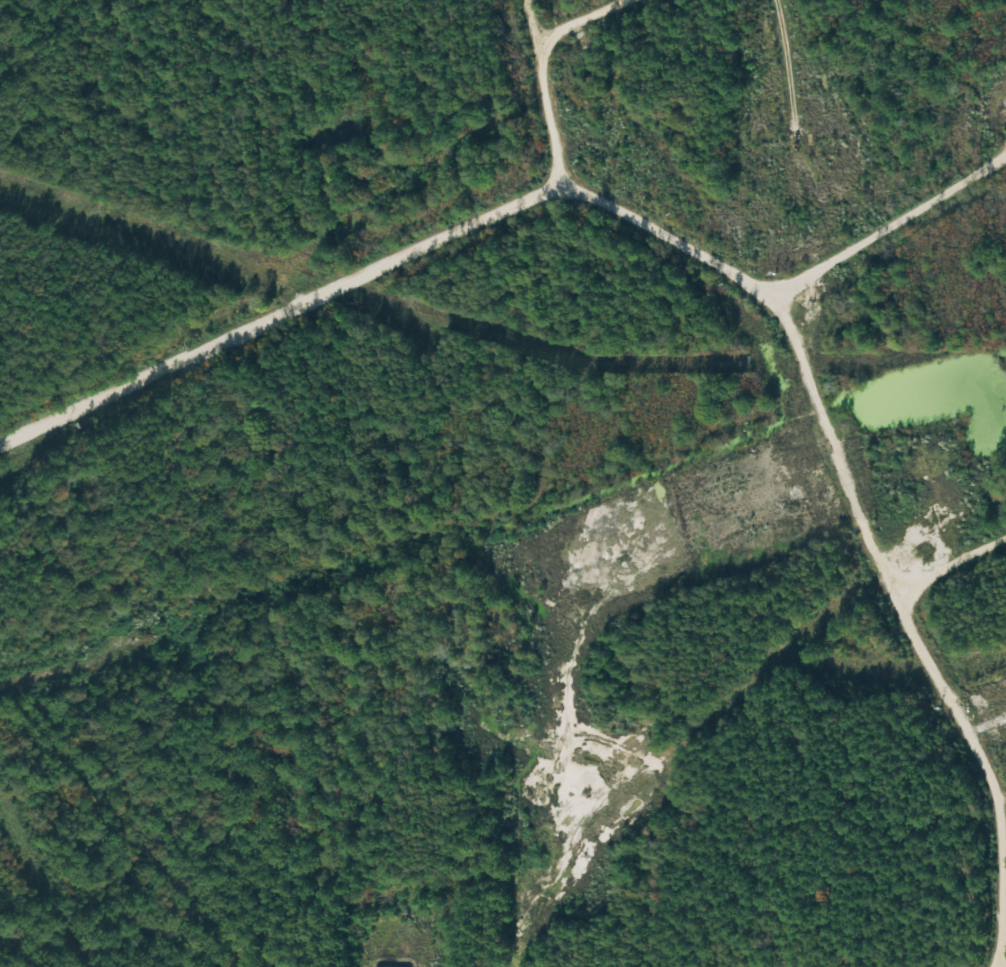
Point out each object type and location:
road: (596, 21)
road: (554, 83)
road: (494, 190)
road: (945, 573)
road: (885, 602)
road: (53, 766)

